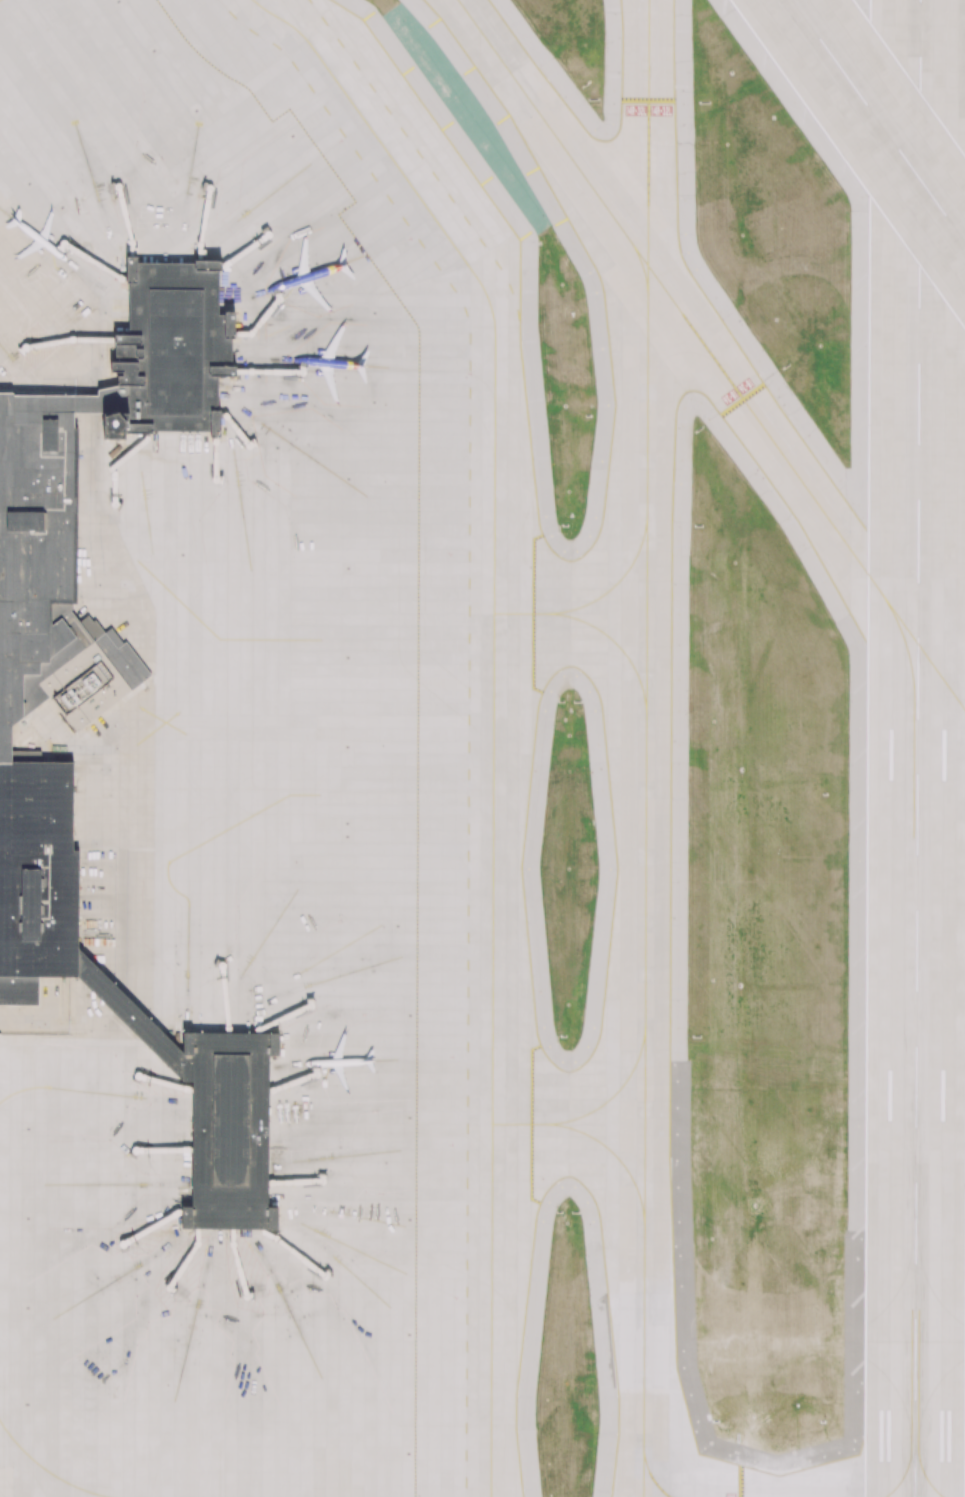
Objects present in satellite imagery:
airport runway: (878, 121)
road: (116, 209)
road: (204, 216)
road: (245, 245)
road: (98, 257)
airport taxiway: (642, 266)
road: (263, 316)
road: (65, 338)
airport terminal: (170, 345)
building: (170, 345)
airport taxiway: (713, 353)
road: (268, 369)
building: (84, 401)
building: (113, 421)
road: (237, 430)
road: (214, 458)
road: (112, 464)
airport taxiway: (524, 613)
airport taxiway: (611, 638)
airport terminal: (43, 687)
building: (43, 687)
airport taxiway: (493, 705)
airport: (482, 748)
airport taxiway: (648, 748)
airport runway: (920, 748)
airport apron: (274, 771)
road: (219, 994)
road: (49, 999)
building: (128, 1012)
road: (283, 1014)
road: (3, 1015)
road: (33, 1024)
road: (159, 1080)
road: (299, 1080)
airport taxiway: (44, 1085)
airport taxiway: (590, 1111)
airport terminal: (228, 1126)
building: (228, 1126)
road: (158, 1149)
airport taxiway: (619, 1159)
road: (305, 1173)
road: (151, 1230)
road: (291, 1246)
road: (247, 1262)
road: (186, 1265)
airport taxiway: (48, 1471)

